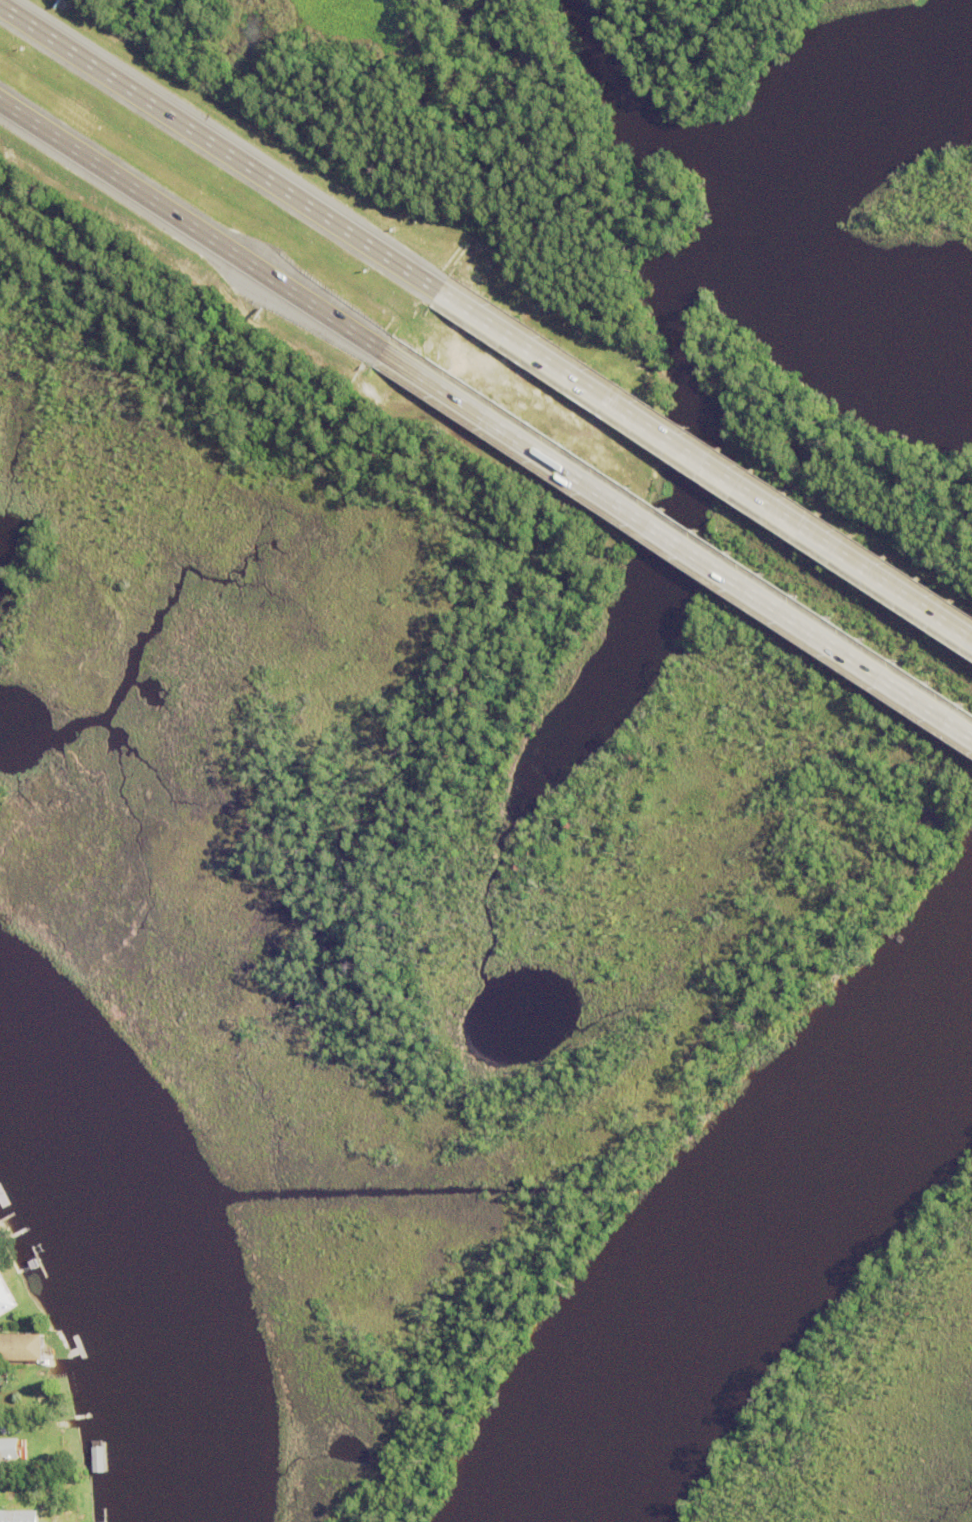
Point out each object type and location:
road: (221, 142)
road: (198, 234)
road: (706, 456)
road: (685, 551)
river: (758, 1255)
river: (140, 1276)
building: (1, 1287)
building: (19, 1349)
building: (11, 1429)
building: (13, 1451)
building: (100, 1461)
building: (24, 1517)

